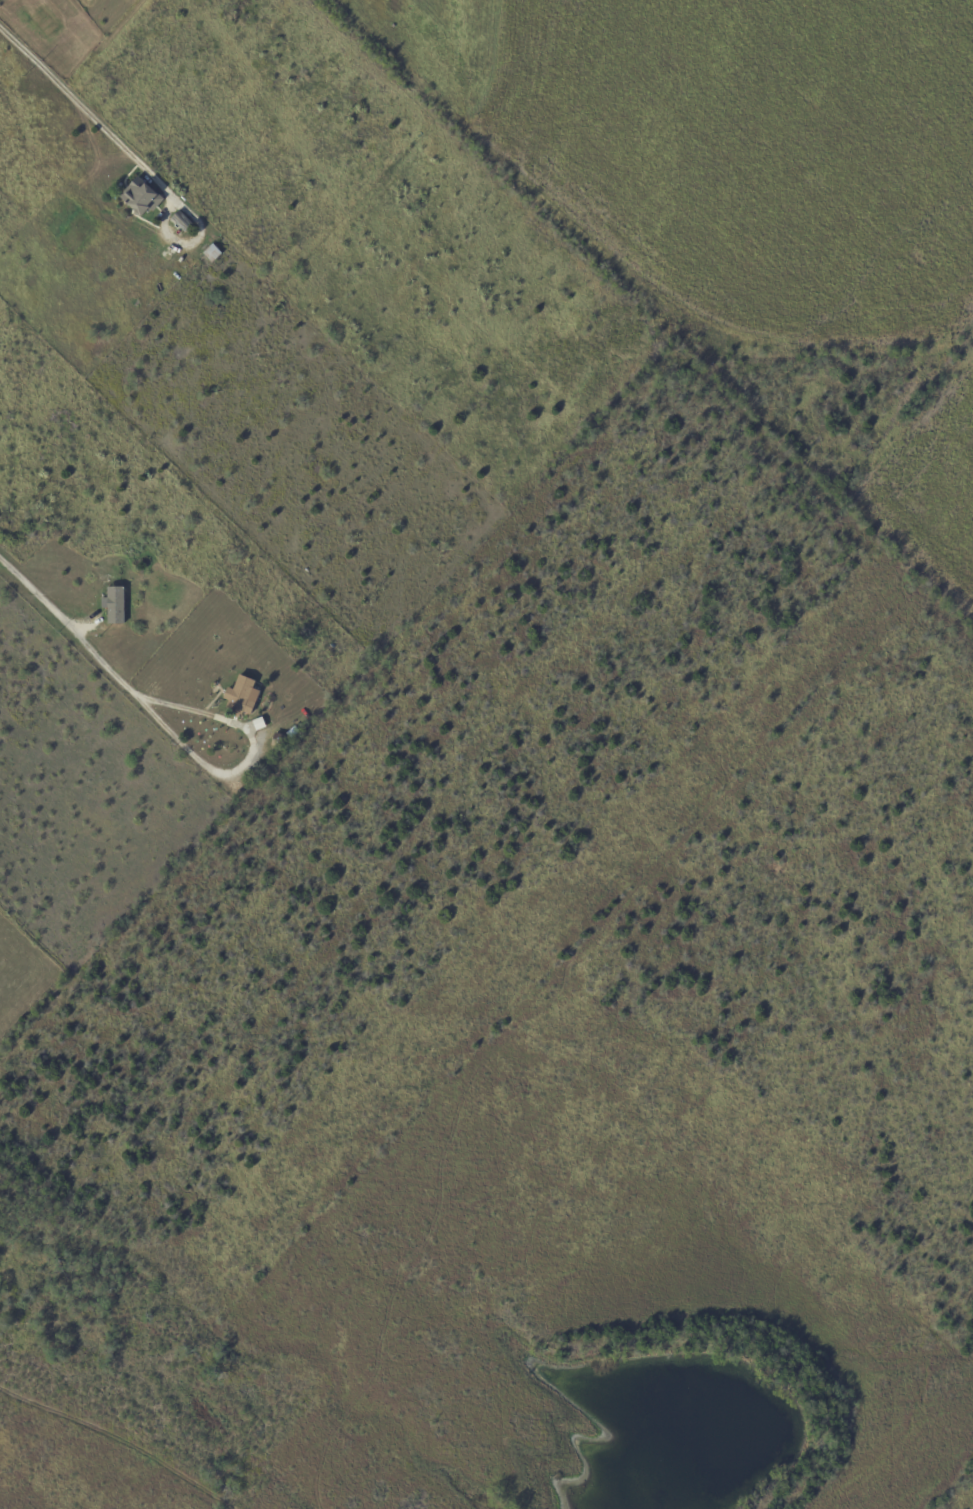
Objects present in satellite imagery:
road: (87, 114)
building: (142, 198)
building: (182, 219)
road: (188, 244)
building: (215, 253)
building: (116, 605)
road: (66, 628)
building: (335, 645)
building: (243, 697)
building: (280, 742)
road: (248, 761)

